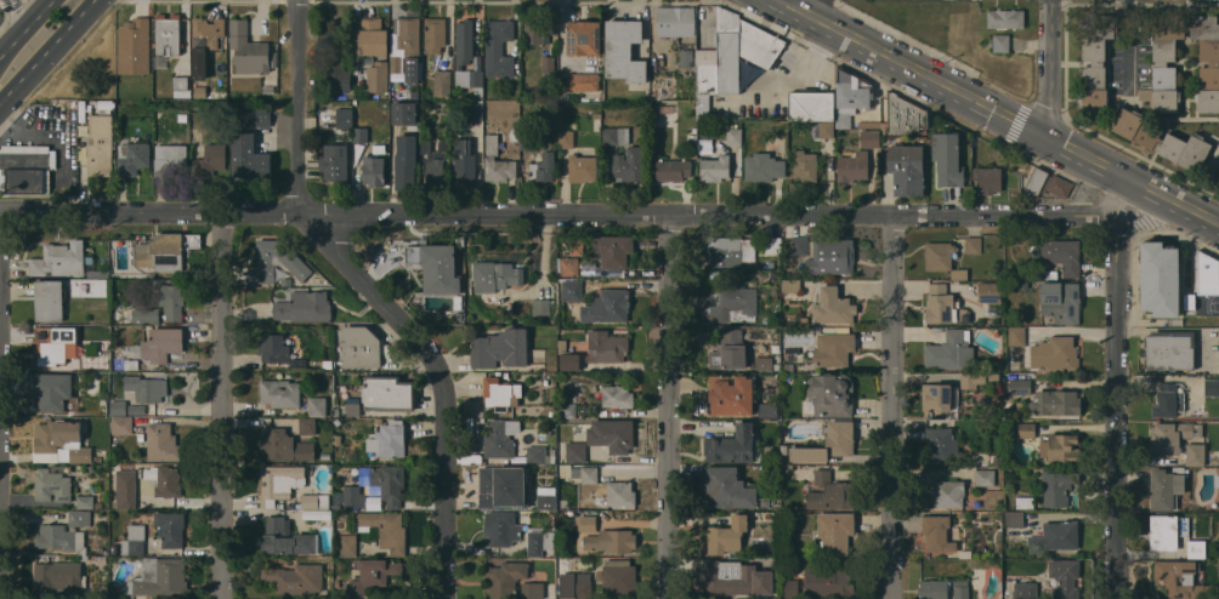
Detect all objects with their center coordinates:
building: (1005, 18)
building: (676, 21)
road: (28, 30)
building: (206, 33)
building: (535, 33)
building: (168, 34)
building: (435, 34)
building: (373, 36)
building: (327, 38)
building: (584, 38)
building: (1002, 42)
building: (409, 44)
road: (1129, 44)
building: (761, 45)
building: (134, 46)
building: (499, 47)
building: (248, 49)
building: (624, 50)
road: (47, 51)
building: (722, 56)
building: (466, 57)
building: (686, 58)
building: (1096, 61)
building: (549, 63)
building: (1161, 63)
building: (396, 64)
road: (1051, 70)
building: (336, 72)
building: (378, 76)
building: (580, 81)
building: (181, 82)
building: (442, 84)
building: (199, 85)
building: (362, 86)
building: (268, 89)
building: (851, 95)
building: (566, 96)
building: (812, 104)
building: (702, 109)
building: (475, 110)
building: (404, 112)
road: (996, 112)
building: (597, 115)
building: (905, 115)
building: (182, 116)
building: (255, 116)
building: (345, 118)
building: (868, 124)
building: (823, 130)
building: (361, 133)
building: (616, 135)
building: (733, 136)
building: (567, 138)
building: (871, 138)
building: (1163, 138)
building: (101, 142)
building: (492, 144)
building: (379, 148)
building: (249, 156)
building: (132, 158)
building: (947, 158)
building: (211, 159)
building: (171, 160)
building: (406, 161)
building: (436, 162)
building: (335, 164)
building: (464, 164)
building: (629, 164)
building: (549, 165)
building: (805, 165)
building: (764, 166)
building: (852, 166)
building: (25, 167)
building: (583, 167)
building: (715, 167)
building: (671, 169)
building: (907, 169)
building: (373, 170)
building: (987, 178)
building: (1218, 179)
building: (1047, 183)
road: (577, 213)
building: (773, 245)
building: (800, 245)
building: (974, 245)
building: (577, 246)
building: (613, 249)
building: (165, 250)
building: (731, 250)
building: (1062, 255)
building: (832, 256)
building: (942, 258)
building: (62, 259)
building: (278, 259)
building: (436, 266)
building: (568, 266)
building: (97, 273)
building: (1207, 273)
building: (495, 275)
building: (1160, 278)
building: (776, 279)
building: (287, 281)
building: (90, 286)
building: (792, 286)
building: (572, 290)
building: (990, 291)
road: (376, 296)
building: (1059, 297)
building: (50, 299)
building: (1190, 301)
building: (171, 302)
building: (731, 303)
building: (940, 303)
building: (304, 307)
building: (540, 307)
building: (607, 307)
building: (833, 307)
building: (146, 314)
building: (458, 315)
building: (804, 320)
building: (1016, 336)
building: (160, 343)
building: (53, 344)
building: (606, 346)
building: (361, 347)
building: (274, 348)
building: (500, 348)
building: (833, 348)
building: (728, 349)
building: (951, 349)
building: (1169, 349)
building: (1054, 353)
building: (1008, 354)
building: (567, 356)
building: (766, 363)
building: (132, 364)
building: (993, 377)
building: (971, 378)
building: (1020, 386)
building: (1212, 386)
building: (144, 388)
building: (53, 392)
building: (280, 392)
building: (387, 393)
building: (500, 393)
building: (731, 393)
building: (617, 394)
building: (832, 394)
building: (941, 398)
building: (1166, 400)
building: (1055, 401)
building: (102, 404)
road: (226, 405)
building: (317, 406)
building: (352, 406)
road: (668, 406)
road: (1118, 406)
road: (895, 407)
building: (119, 409)
building: (767, 409)
building: (567, 410)
building: (378, 421)
building: (121, 426)
building: (306, 426)
building: (1027, 429)
building: (527, 434)
building: (612, 434)
building: (1172, 435)
building: (500, 437)
building: (114, 438)
building: (62, 439)
building: (336, 439)
building: (390, 439)
building: (828, 441)
building: (161, 443)
building: (940, 443)
building: (285, 445)
building: (733, 445)
building: (1060, 447)
building: (576, 451)
building: (1195, 453)
building: (325, 455)
building: (538, 455)
building: (91, 468)
building: (589, 474)
building: (983, 477)
building: (1217, 479)
building: (164, 480)
building: (385, 481)
building: (279, 483)
building: (58, 485)
building: (1058, 485)
building: (1166, 486)
building: (125, 487)
building: (503, 487)
building: (731, 489)
building: (620, 492)
building: (830, 492)
building: (948, 492)
building: (350, 496)
building: (546, 497)
building: (1010, 498)
building: (1024, 501)
building: (314, 502)
building: (98, 504)
building: (969, 504)
building: (316, 514)
building: (962, 514)
building: (561, 515)
building: (1015, 519)
building: (586, 523)
building: (170, 527)
building: (501, 527)
building: (384, 529)
building: (1167, 530)
building: (835, 531)
building: (937, 532)
building: (66, 534)
building: (727, 534)
building: (287, 537)
building: (1054, 537)
building: (134, 540)
building: (611, 540)
building: (539, 541)
building: (346, 544)
building: (114, 548)
building: (1196, 548)
building: (965, 553)
building: (584, 564)
building: (373, 572)
building: (58, 576)
building: (160, 576)
building: (506, 576)
building: (619, 576)
building: (295, 578)
building: (738, 578)
building: (1065, 578)
building: (1183, 578)
building: (829, 581)
building: (576, 584)
building: (789, 587)
building: (934, 588)
building: (532, 589)
building: (960, 589)
building: (1025, 591)
building: (121, 592)
building: (47, 594)

